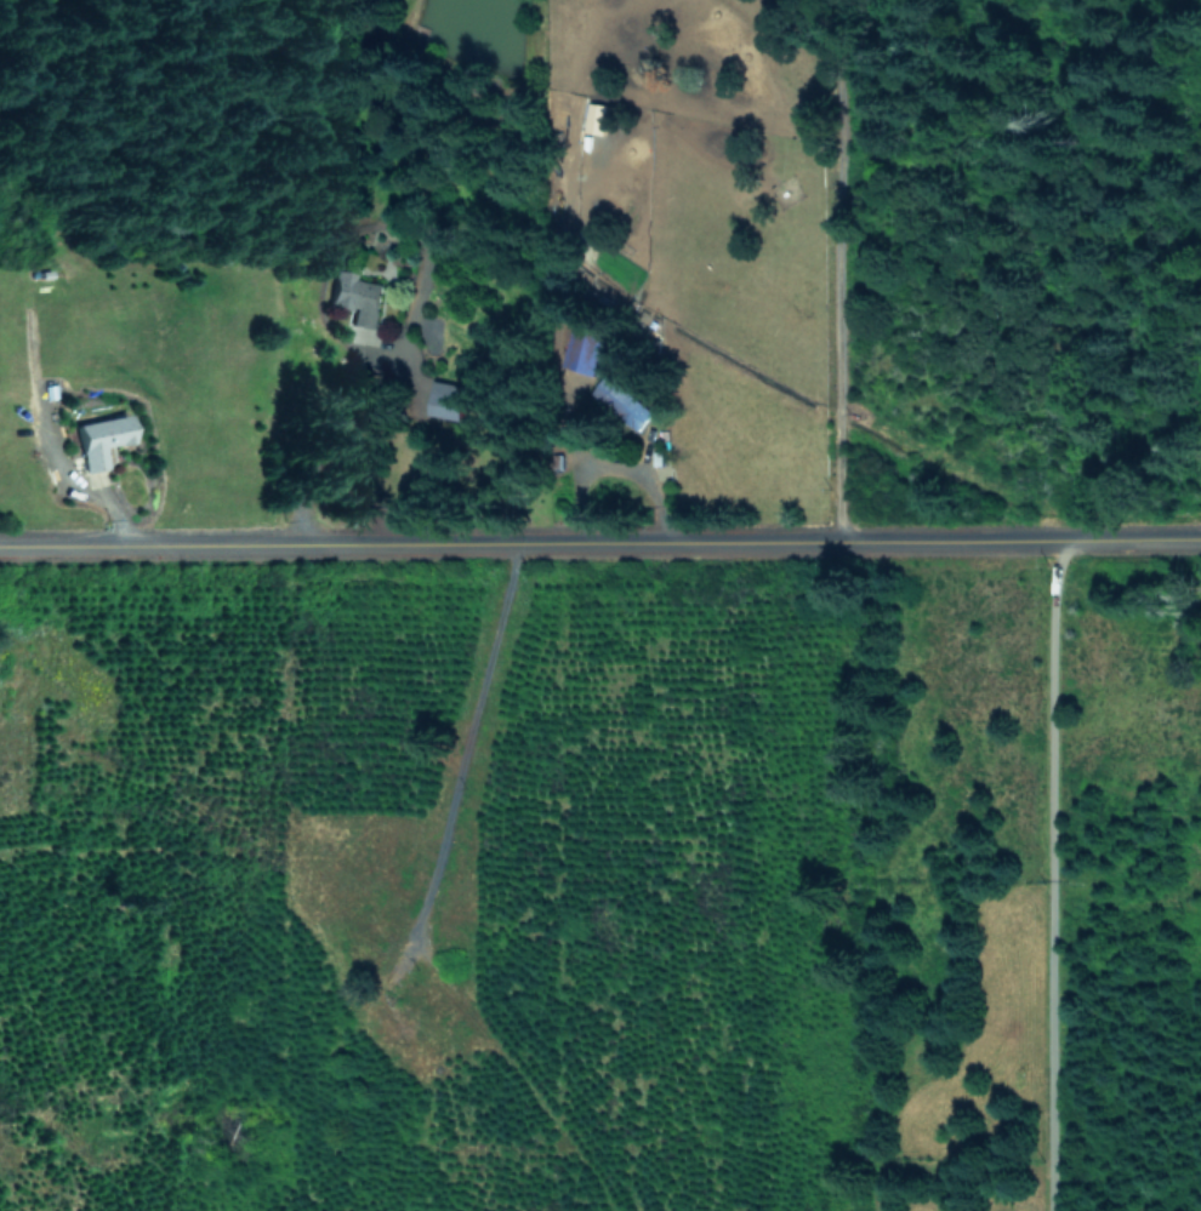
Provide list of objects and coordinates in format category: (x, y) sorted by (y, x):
building: (357, 296)
building: (628, 405)
building: (99, 439)
road: (599, 543)
road: (1052, 874)

